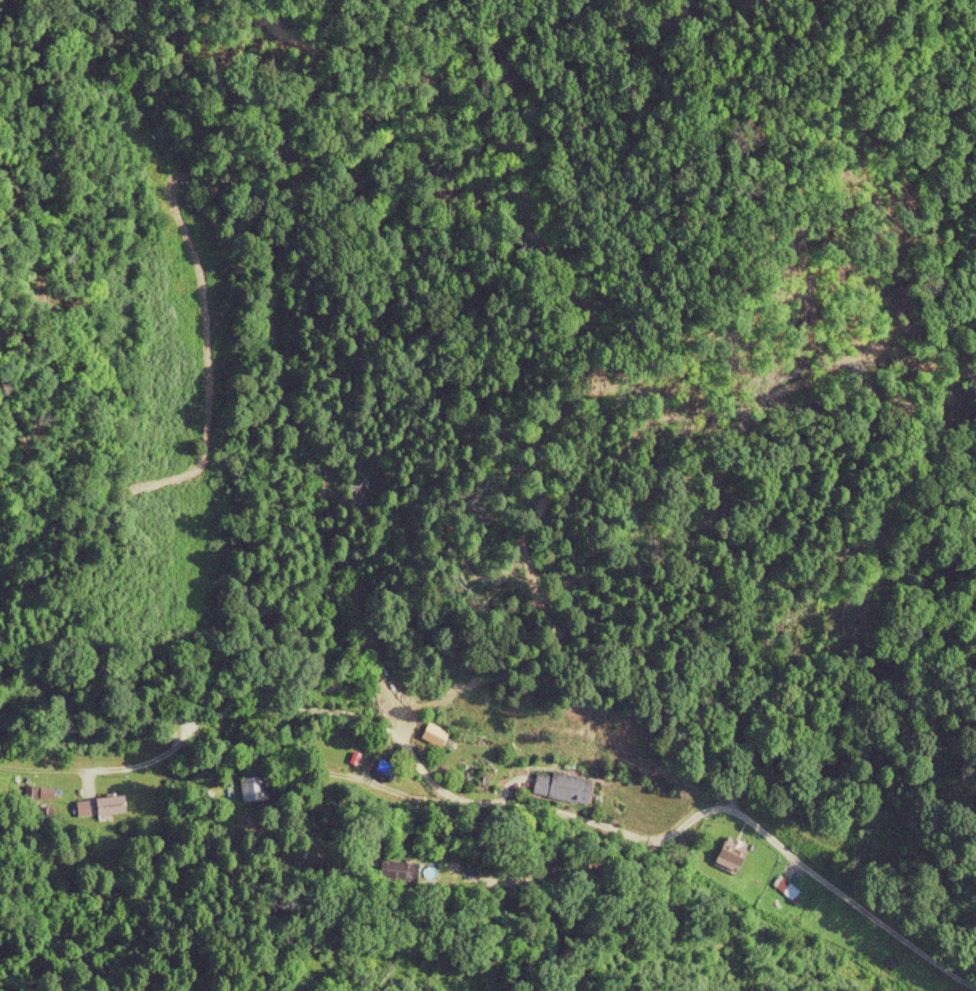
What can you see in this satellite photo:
building: (326, 683)
road: (108, 770)
building: (743, 772)
building: (255, 788)
building: (571, 789)
road: (509, 802)
building: (108, 806)
building: (730, 852)
building: (397, 872)
building: (783, 888)

